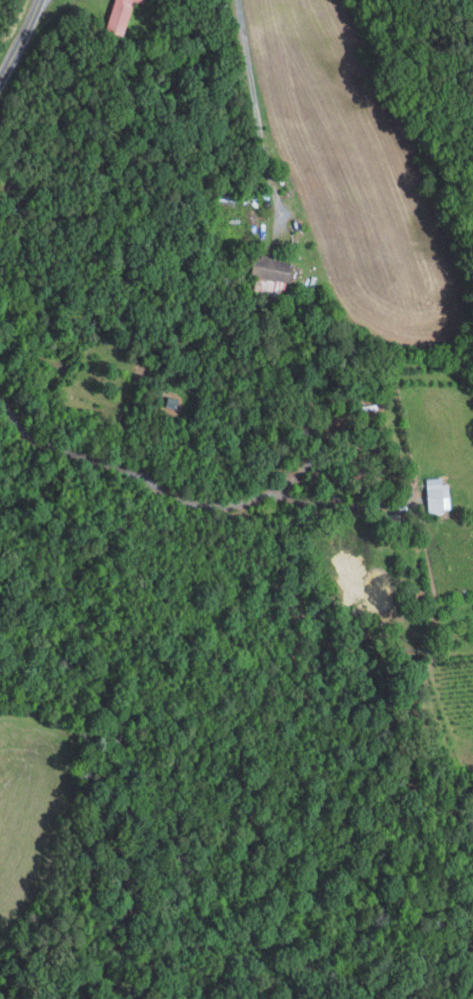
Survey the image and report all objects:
building: (139, 0)
building: (142, 0)
building: (127, 1)
building: (117, 16)
road: (20, 39)
road: (254, 106)
building: (270, 267)
road: (310, 457)
building: (439, 494)
road: (176, 496)

